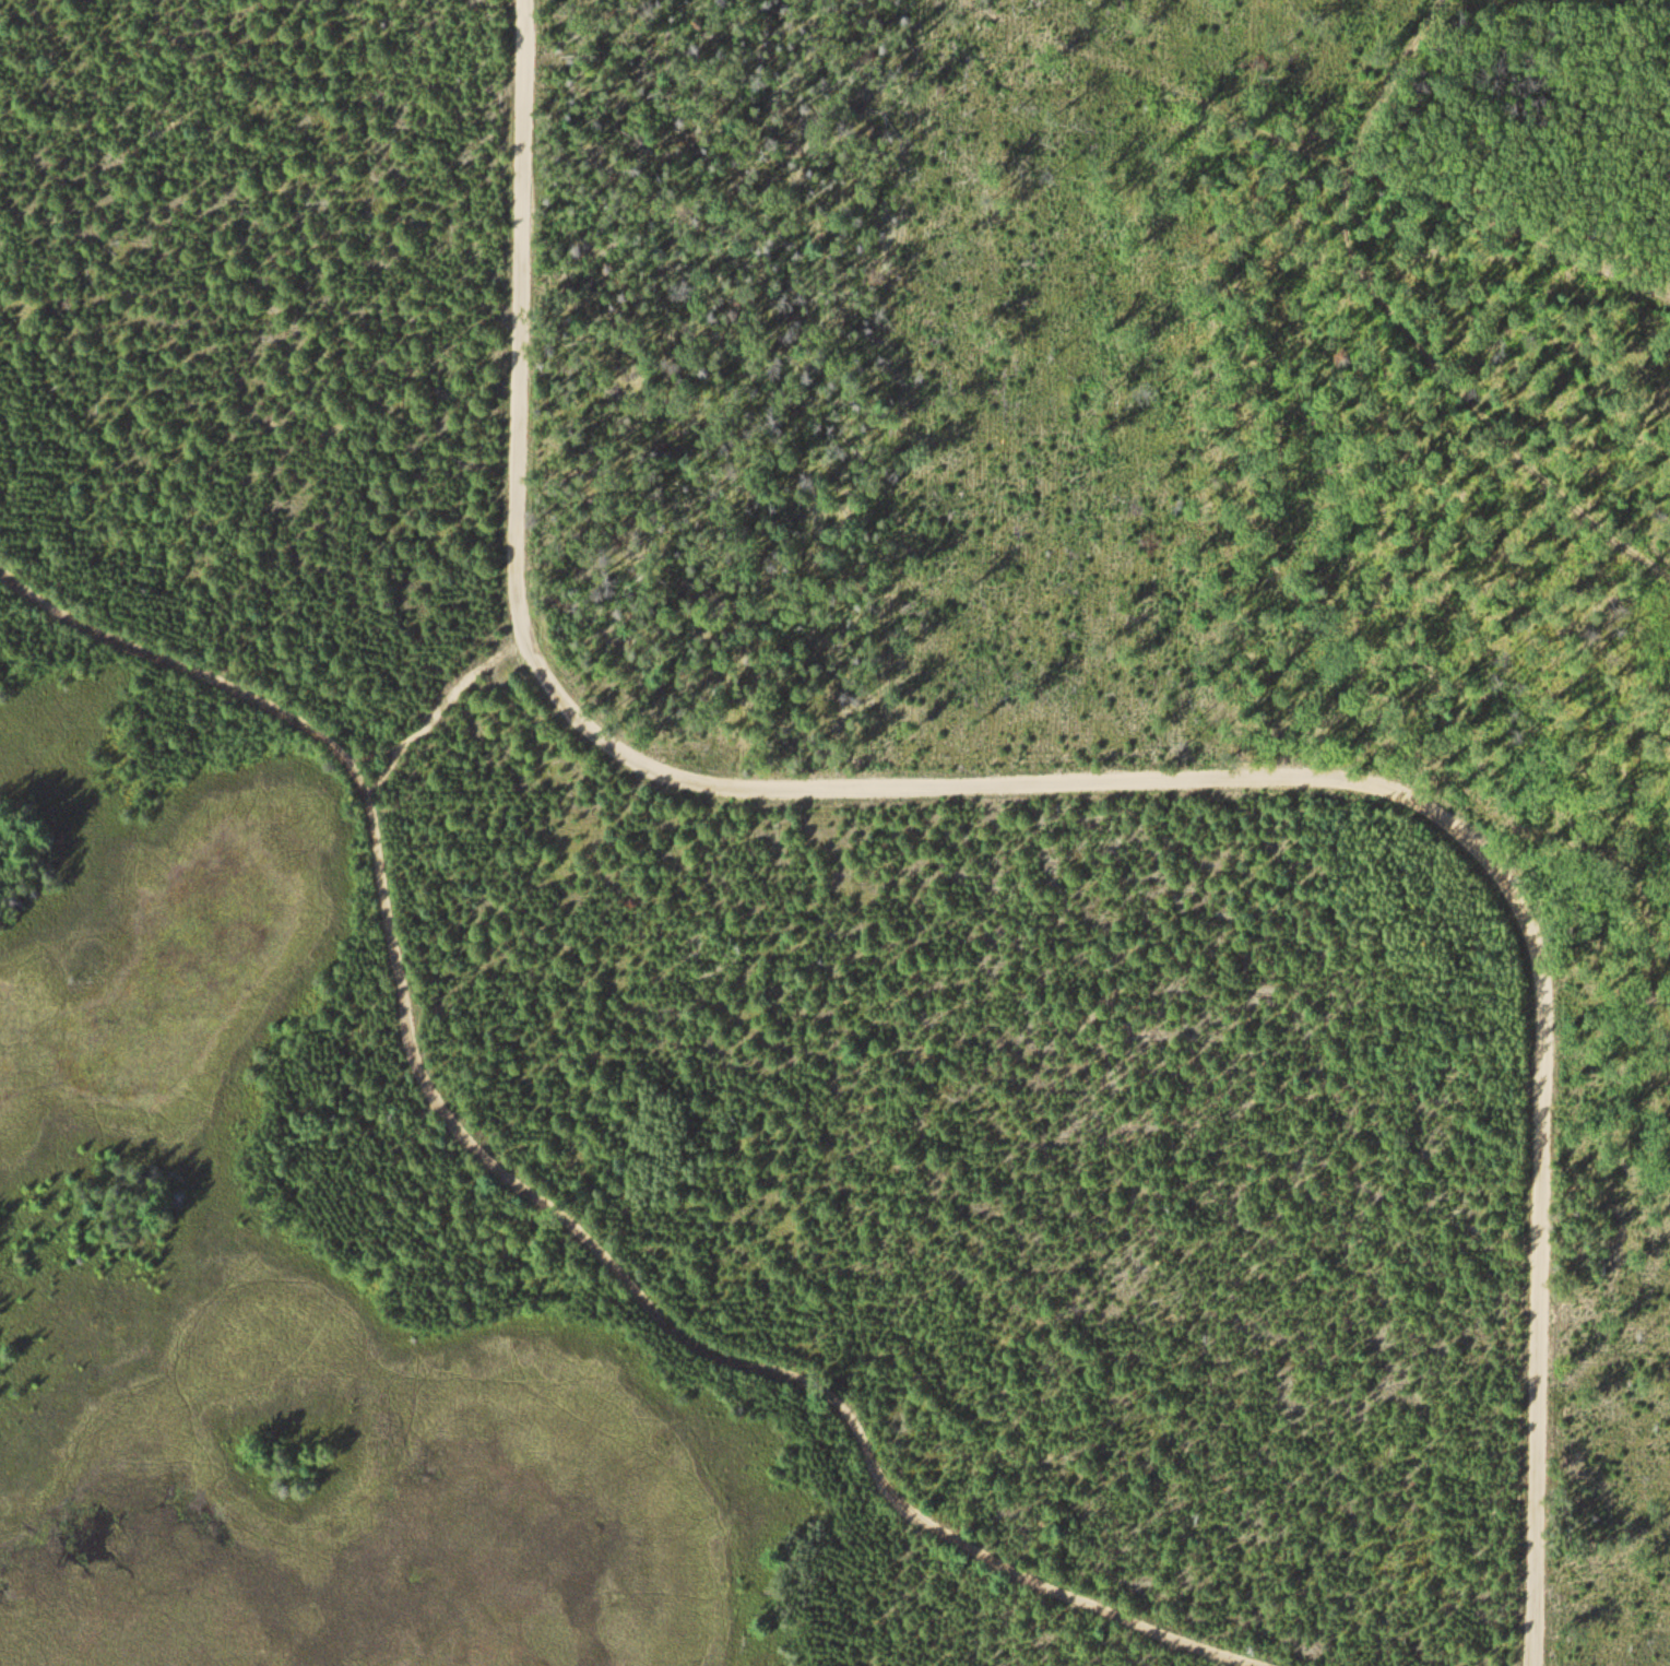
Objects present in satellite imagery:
road: (1152, 82)
road: (1505, 229)
road: (1413, 320)
road: (442, 716)
road: (1088, 771)
road: (530, 1193)

